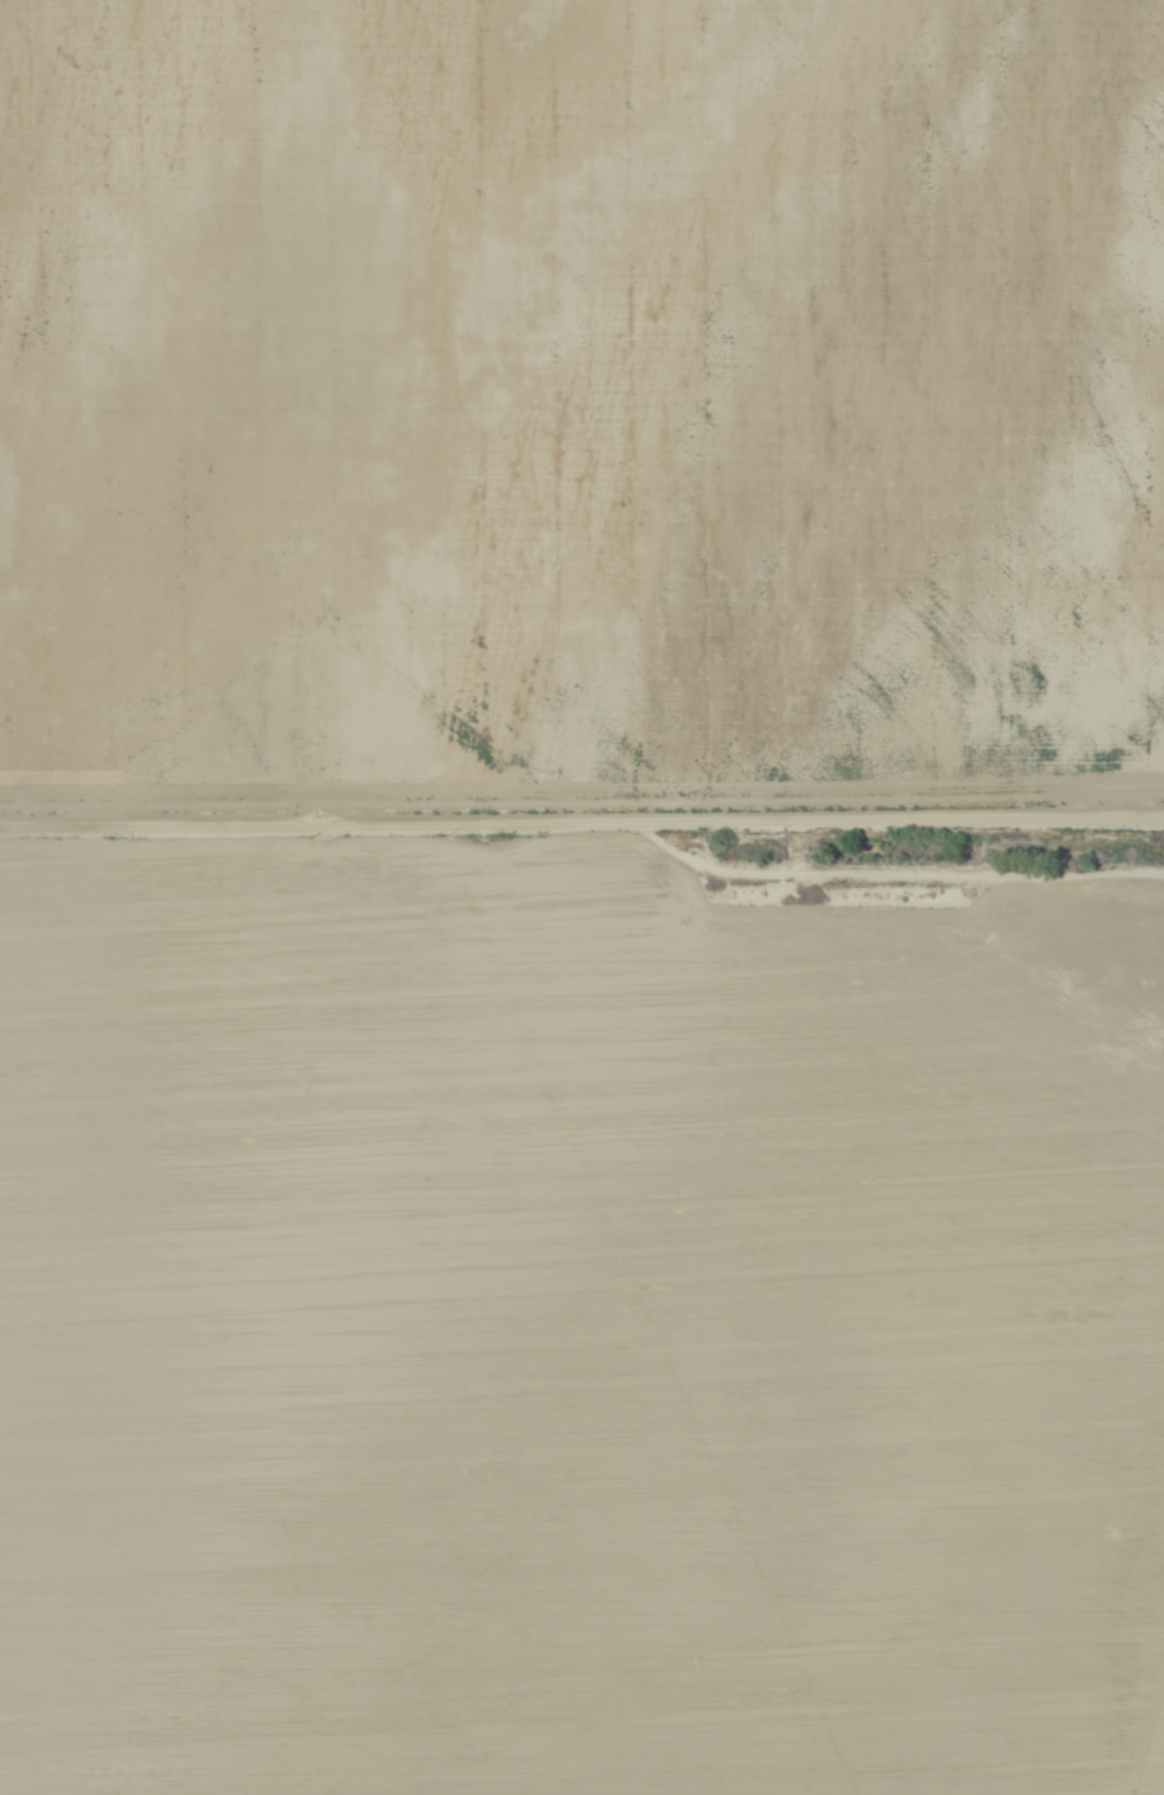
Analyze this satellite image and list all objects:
road: (582, 836)

